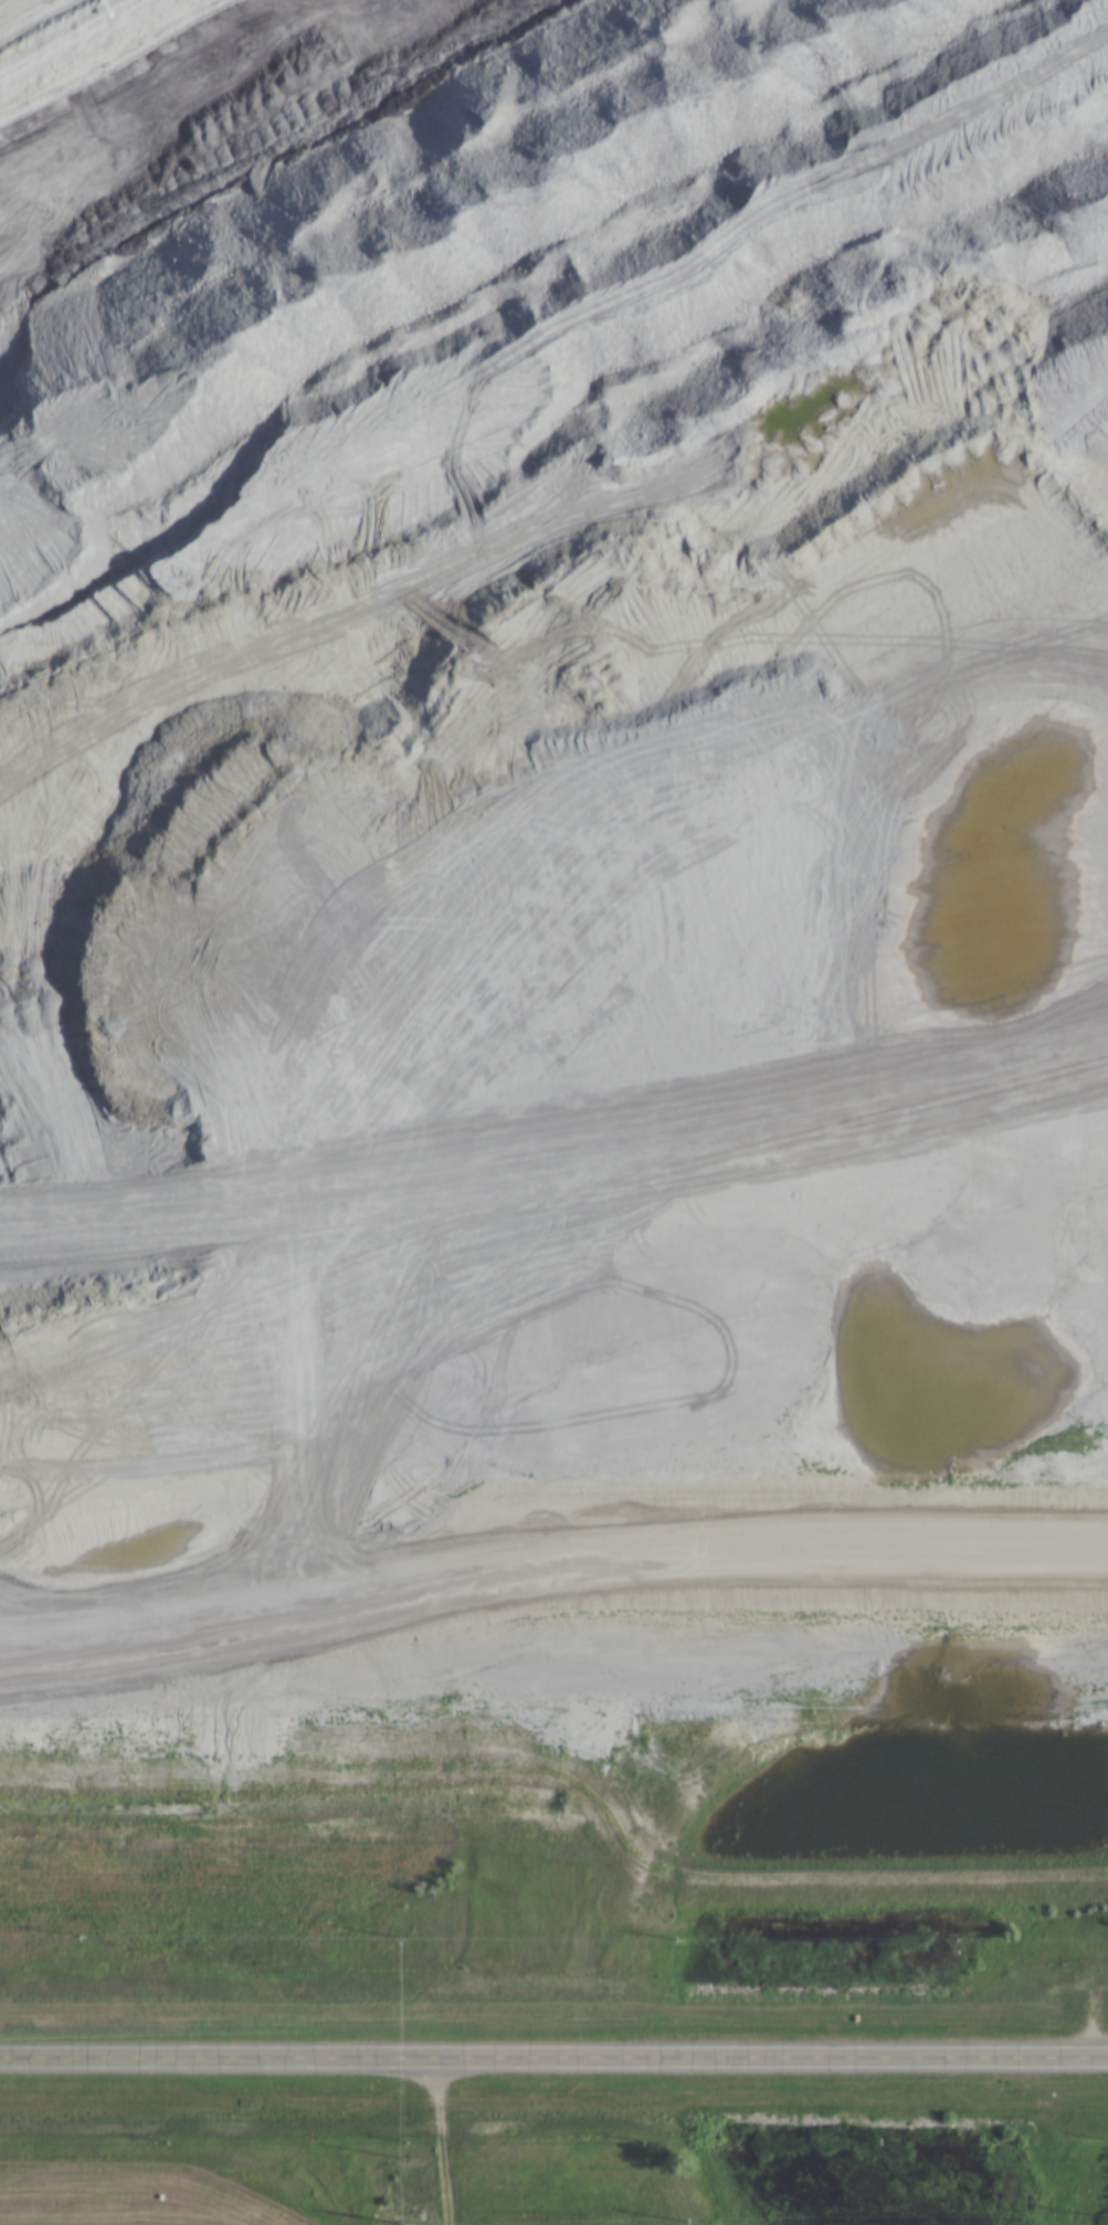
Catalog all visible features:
road: (553, 2055)
quarry: (622, 2214)

